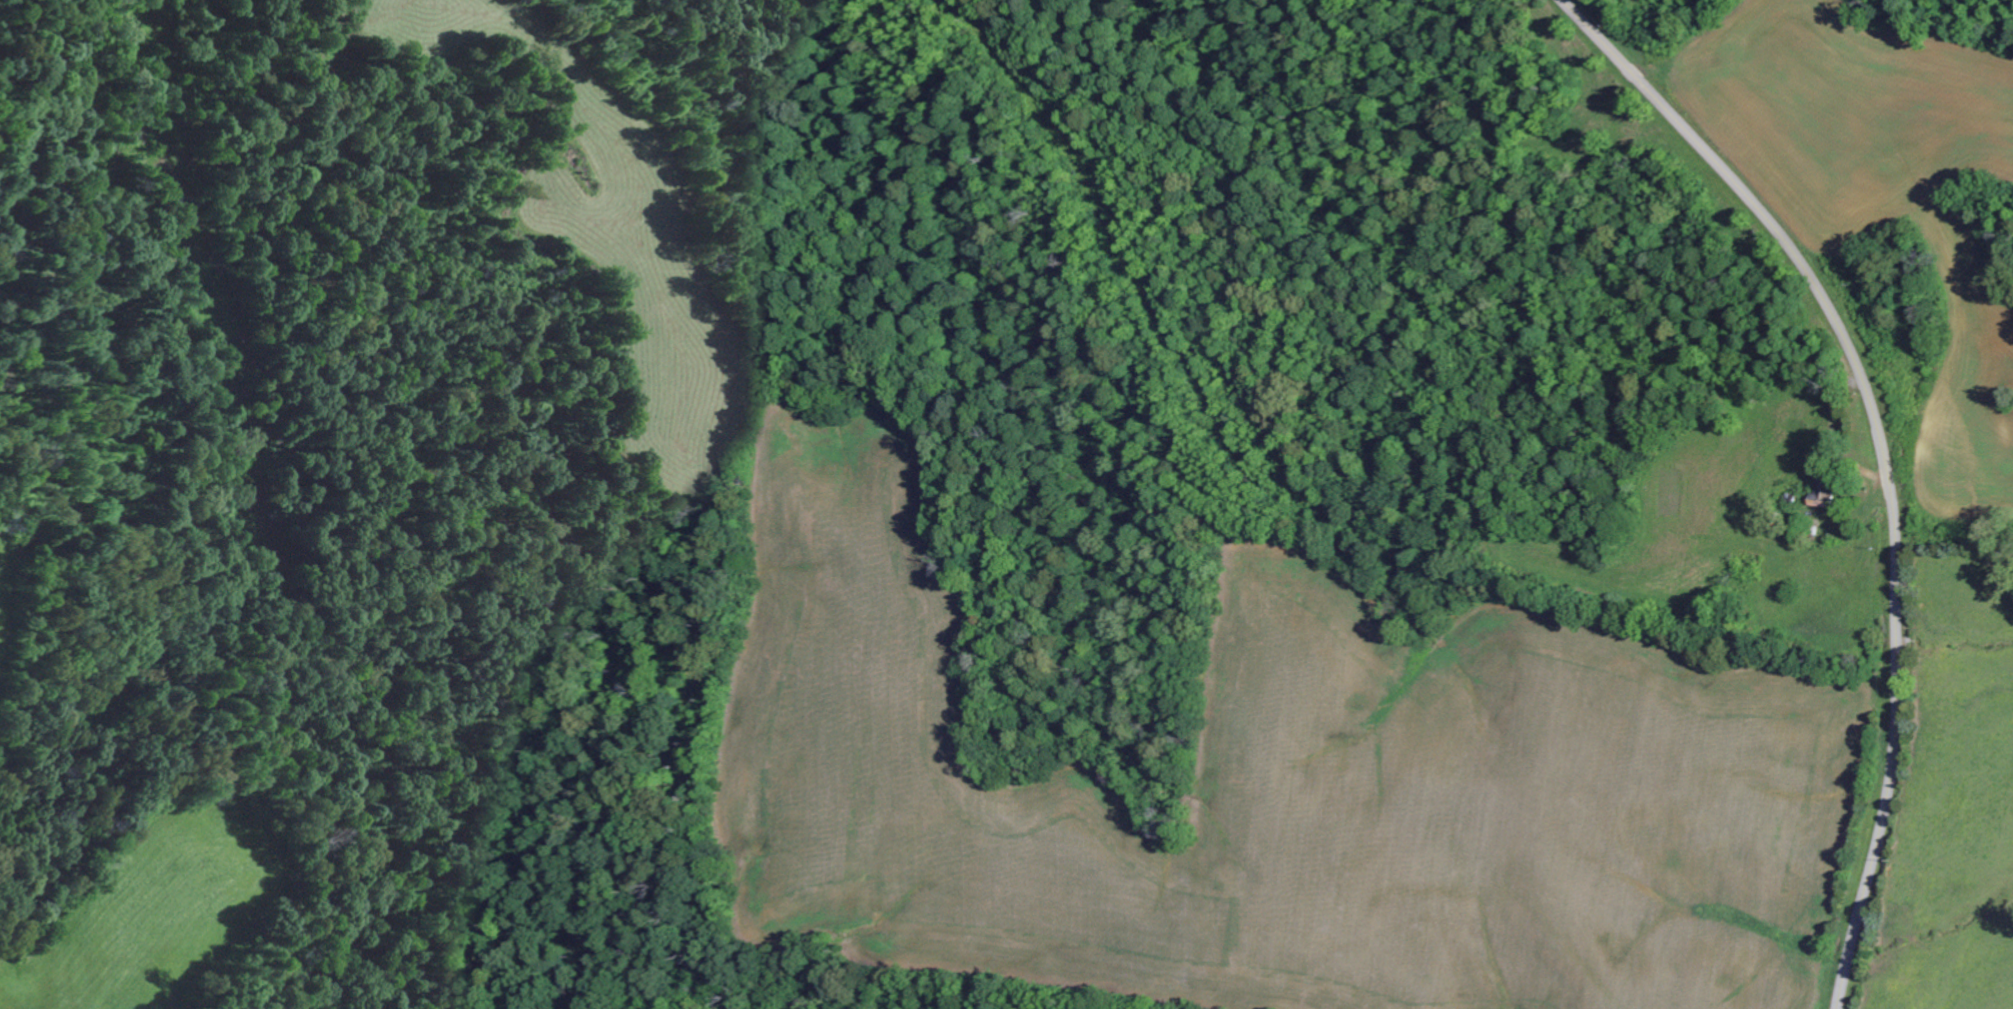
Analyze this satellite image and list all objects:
road: (1886, 452)

